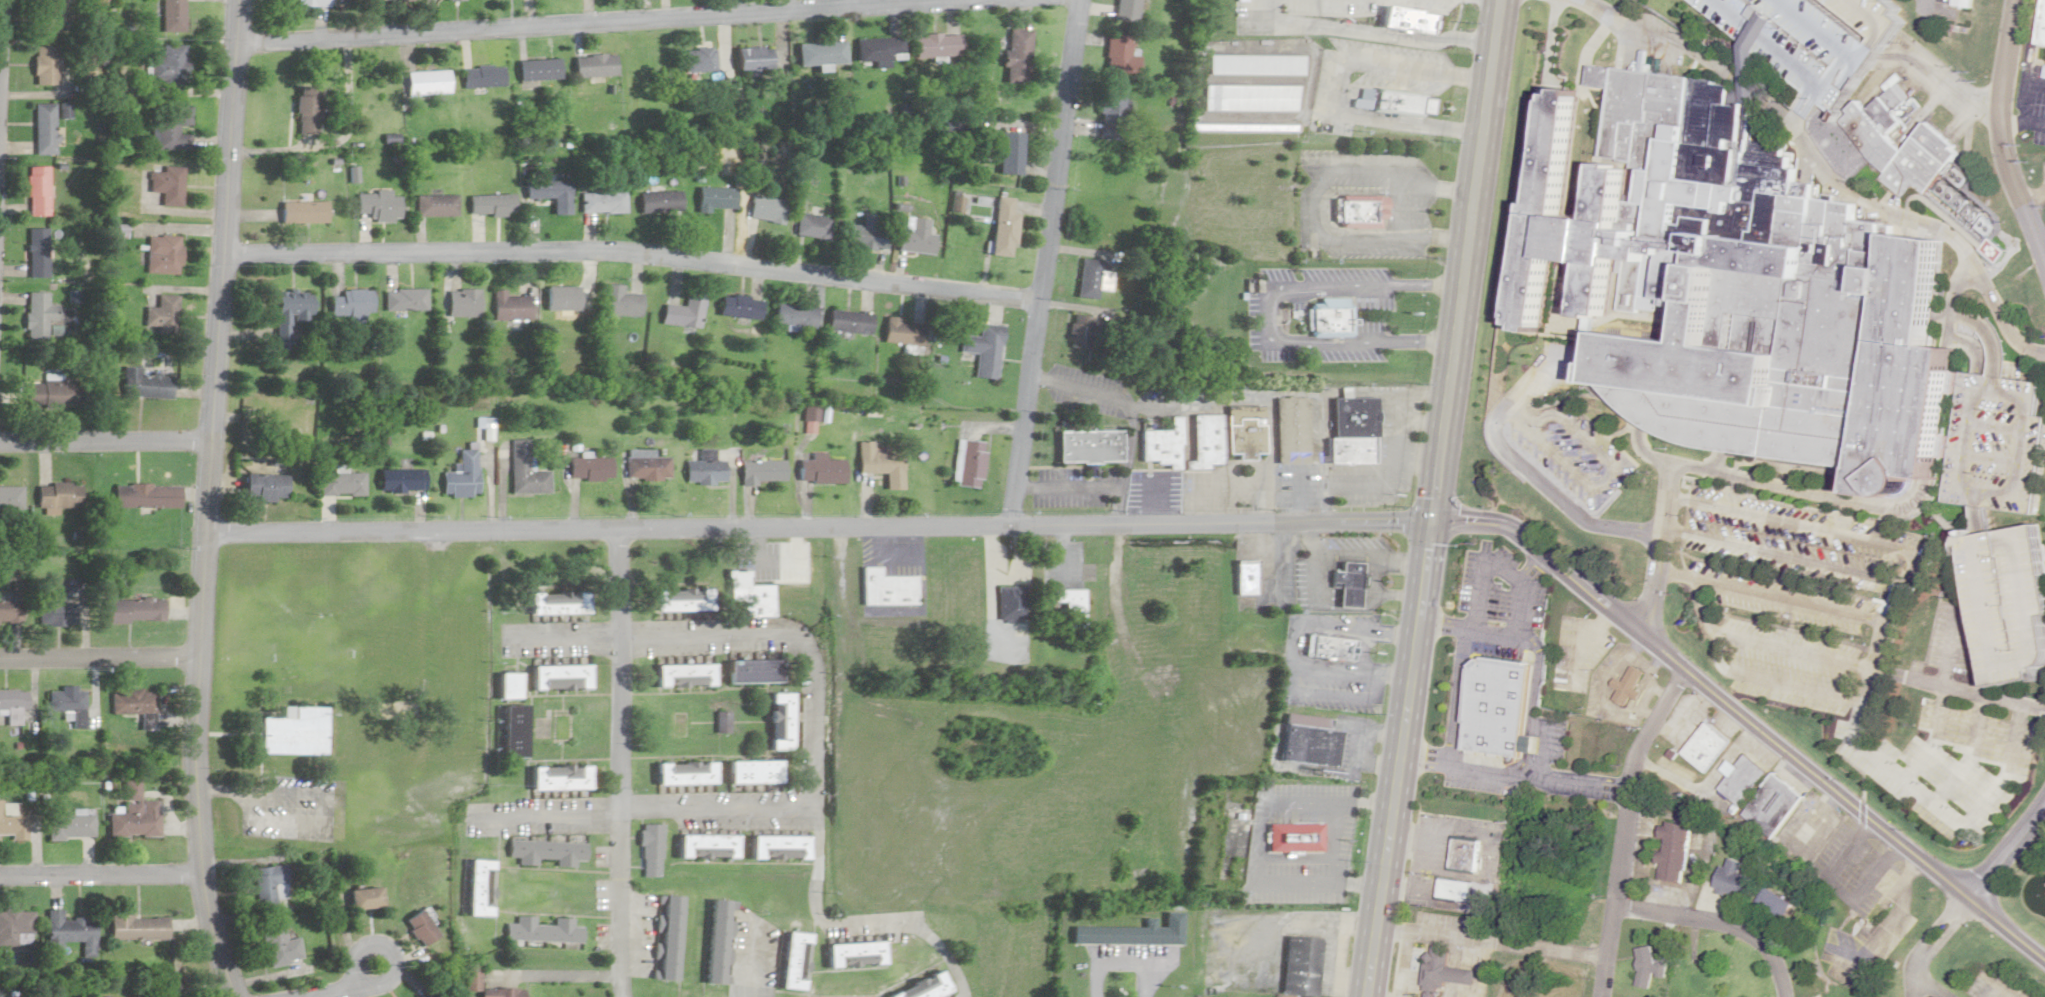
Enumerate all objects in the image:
building: (386, 0)
road: (1495, 0)
building: (94, 3)
building: (310, 3)
building: (1963, 3)
building: (1123, 10)
building: (50, 13)
building: (170, 15)
building: (1409, 19)
road: (587, 20)
building: (2043, 32)
road: (1370, 34)
building: (935, 45)
building: (876, 50)
building: (817, 53)
building: (1116, 55)
building: (1014, 56)
road: (2007, 57)
building: (752, 58)
building: (697, 59)
building: (45, 64)
building: (166, 65)
building: (1254, 65)
building: (592, 66)
building: (537, 70)
building: (481, 77)
road: (1949, 80)
building: (425, 82)
road: (1344, 88)
road: (2030, 94)
building: (1250, 98)
building: (1403, 103)
building: (304, 109)
building: (1108, 113)
road: (2022, 122)
building: (168, 127)
building: (1228, 128)
building: (43, 129)
building: (1927, 146)
building: (1008, 153)
building: (1949, 184)
building: (164, 185)
building: (35, 191)
building: (546, 191)
road: (2018, 191)
road: (2033, 197)
building: (713, 198)
building: (657, 202)
building: (600, 203)
building: (435, 205)
building: (489, 205)
road: (1307, 206)
road: (1411, 206)
building: (375, 207)
building: (764, 209)
building: (1362, 210)
building: (299, 212)
building: (811, 226)
building: (1001, 227)
building: (867, 234)
building: (914, 236)
helipad: (2007, 245)
road: (631, 251)
building: (36, 252)
building: (160, 254)
road: (1043, 264)
building: (1090, 278)
building: (1739, 283)
building: (560, 298)
building: (401, 299)
building: (620, 301)
building: (462, 302)
building: (347, 303)
building: (511, 306)
building: (739, 307)
road: (1273, 310)
building: (684, 312)
building: (284, 313)
building: (37, 314)
building: (159, 315)
building: (793, 315)
building: (1328, 318)
building: (848, 322)
building: (1079, 331)
building: (901, 332)
building: (985, 350)
building: (143, 383)
building: (51, 392)
road: (1667, 416)
building: (1358, 418)
building: (1244, 432)
building: (1297, 432)
building: (1205, 441)
road: (105, 442)
building: (2000, 445)
building: (1087, 446)
building: (1162, 446)
building: (1355, 452)
building: (879, 463)
building: (966, 463)
building: (646, 468)
building: (587, 469)
building: (704, 469)
building: (819, 470)
building: (523, 471)
building: (760, 472)
road: (1531, 474)
road: (1722, 474)
building: (459, 477)
building: (399, 481)
building: (340, 485)
road: (1373, 485)
building: (261, 487)
road: (1599, 488)
building: (57, 495)
building: (145, 496)
road: (1433, 498)
building: (9, 499)
road: (1300, 499)
road: (205, 500)
road: (1796, 526)
road: (605, 530)
road: (1788, 557)
road: (1374, 558)
road: (1402, 561)
road: (1484, 561)
building: (1246, 577)
road: (1322, 581)
road: (615, 584)
building: (1351, 585)
building: (883, 589)
road: (1581, 590)
building: (744, 595)
road: (1770, 595)
building: (677, 602)
building: (1008, 602)
building: (551, 603)
building: (57, 605)
road: (1355, 605)
building: (2010, 605)
building: (1069, 607)
road: (1521, 608)
building: (131, 610)
road: (1892, 610)
building: (10, 611)
road: (555, 639)
road: (1301, 645)
road: (1766, 645)
building: (1332, 648)
road: (1954, 649)
road: (1365, 652)
road: (97, 655)
road: (1658, 664)
road: (1650, 667)
building: (748, 672)
building: (678, 676)
building: (554, 677)
road: (1778, 683)
building: (503, 685)
building: (1630, 685)
road: (1959, 688)
road: (2016, 693)
road: (1336, 694)
road: (1539, 701)
building: (70, 703)
building: (136, 704)
building: (14, 705)
building: (1503, 707)
building: (775, 721)
road: (1457, 721)
road: (1683, 724)
building: (296, 731)
building: (509, 731)
road: (1938, 738)
building: (1314, 742)
road: (1362, 746)
building: (1710, 747)
road: (1972, 755)
road: (1497, 774)
building: (750, 775)
building: (680, 777)
building: (1743, 779)
building: (557, 781)
road: (1938, 806)
building: (1774, 807)
road: (636, 808)
building: (135, 815)
road: (543, 818)
road: (1810, 823)
building: (13, 825)
building: (70, 826)
road: (1625, 829)
building: (1298, 839)
road: (1337, 841)
building: (705, 846)
road: (1262, 846)
building: (777, 847)
building: (649, 850)
building: (545, 852)
building: (1671, 852)
road: (2005, 852)
building: (1461, 855)
road: (1298, 859)
road: (99, 873)
building: (1731, 879)
building: (269, 880)
building: (479, 887)
building: (1453, 889)
building: (367, 898)
road: (619, 900)
road: (1834, 900)
building: (1772, 904)
road: (847, 923)
road: (1719, 923)
building: (15, 926)
building: (139, 927)
building: (422, 928)
building: (542, 931)
building: (71, 933)
building: (1136, 935)
building: (666, 937)
building: (717, 941)
road: (1492, 941)
building: (281, 943)
road: (1931, 947)
building: (855, 954)
building: (792, 960)
road: (1103, 964)
road: (1406, 964)
building: (1300, 966)
road: (1465, 967)
building: (1647, 967)
building: (1445, 972)
building: (469, 976)
road: (1145, 980)
road: (1928, 984)
building: (924, 988)
road: (1995, 988)
road: (343, 993)
building: (426, 995)
building: (430, 995)

